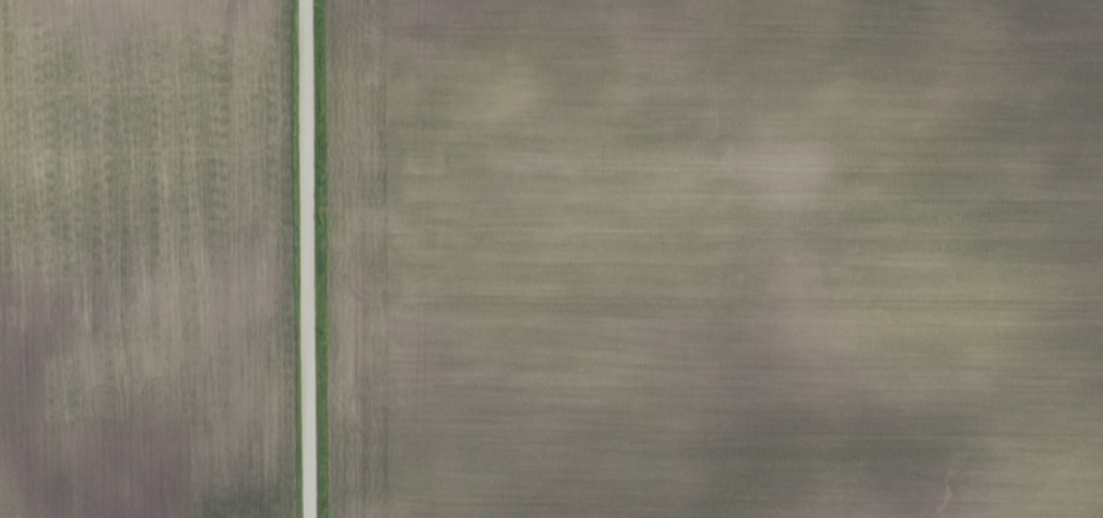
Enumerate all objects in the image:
road: (297, 258)

